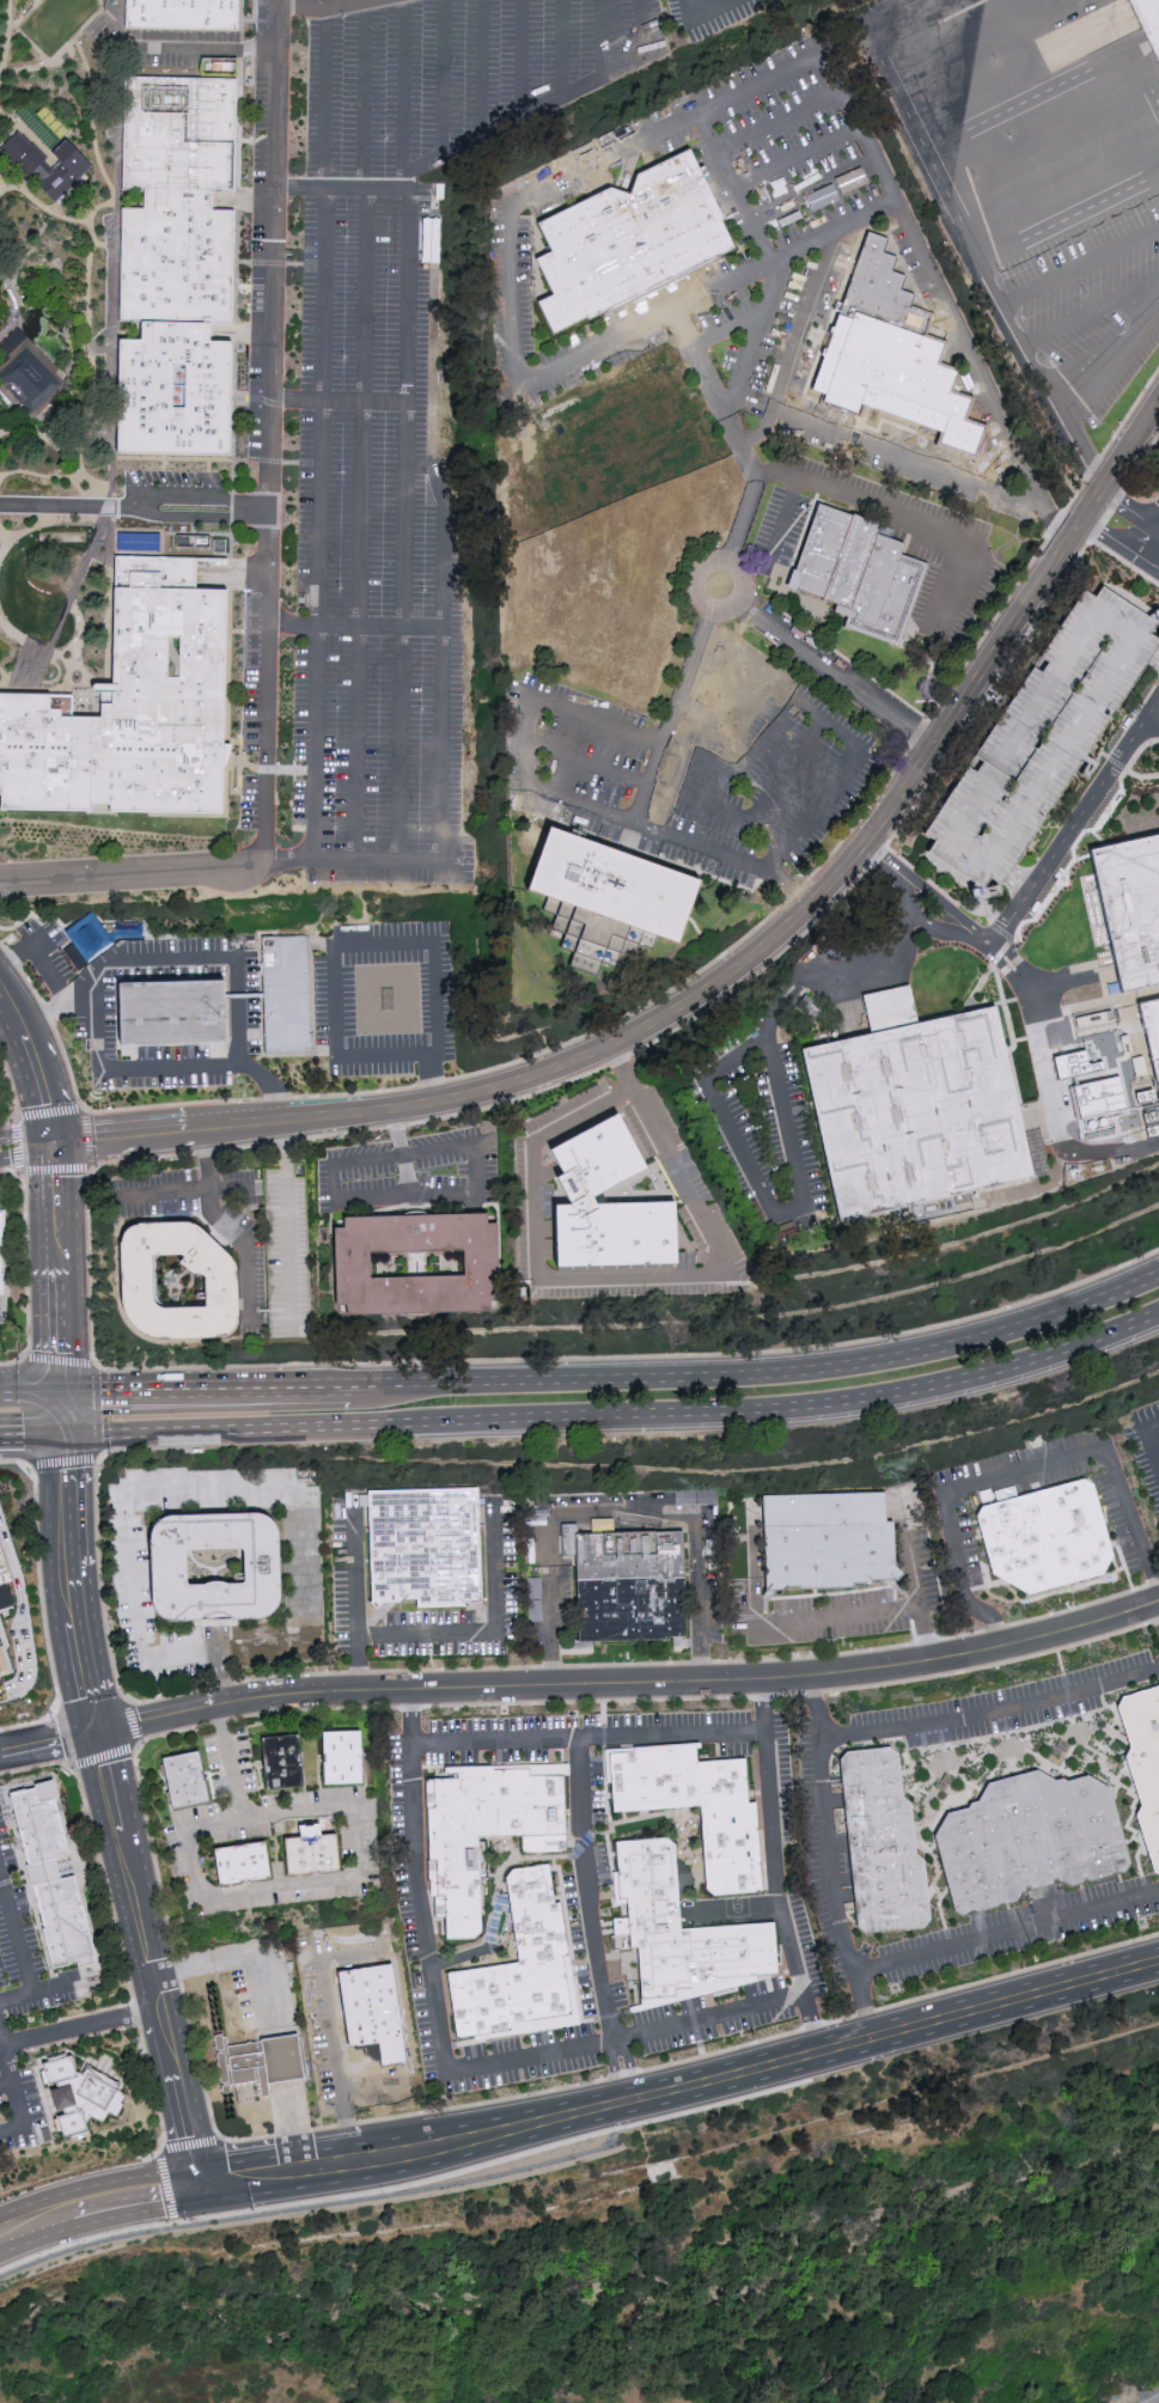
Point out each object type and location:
road: (313, 4)
road: (1069, 4)
park: (69, 8)
road: (327, 8)
parking lot: (1056, 11)
road: (702, 13)
building: (181, 14)
parking lot: (708, 16)
road: (1018, 16)
road: (60, 20)
building: (1148, 20)
park: (43, 29)
road: (121, 35)
road: (6, 36)
road: (604, 38)
parking lot: (184, 45)
road: (209, 47)
road: (561, 49)
road: (66, 55)
road: (520, 60)
road: (481, 68)
road: (0, 74)
parking lot: (456, 75)
road: (441, 78)
road: (402, 87)
road: (543, 108)
road: (776, 122)
road: (104, 141)
road: (866, 148)
road: (794, 159)
building: (53, 164)
road: (341, 189)
road: (97, 190)
road: (812, 195)
road: (37, 201)
parking lot: (1070, 219)
road: (1072, 224)
parking lot: (779, 226)
parking lot: (268, 228)
building: (623, 236)
road: (978, 252)
road: (769, 263)
road: (1081, 266)
building: (176, 267)
park: (54, 270)
road: (18, 272)
road: (77, 275)
parking lot: (733, 298)
road: (16, 300)
road: (86, 310)
road: (1093, 313)
road: (727, 329)
road: (622, 334)
parking lot: (793, 340)
road: (798, 347)
building: (886, 352)
parking lot: (966, 353)
road: (1112, 362)
road: (93, 374)
building: (24, 377)
road: (713, 395)
road: (337, 401)
road: (268, 410)
road: (361, 432)
road: (319, 434)
parking lot: (889, 449)
road: (910, 458)
road: (775, 470)
parking lot: (39, 481)
parking lot: (164, 482)
road: (133, 499)
parking lot: (1012, 510)
road: (885, 511)
road: (1130, 512)
road: (133, 514)
road: (740, 522)
road: (402, 525)
parking lot: (139, 532)
road: (2, 543)
road: (1121, 544)
road: (1152, 547)
parking lot: (950, 549)
road: (1124, 562)
parking lot: (373, 563)
building: (2, 568)
road: (752, 568)
road: (701, 572)
building: (856, 573)
road: (4, 586)
road: (67, 603)
parking lot: (12, 617)
road: (349, 627)
building: (1, 638)
road: (1155, 655)
road: (836, 675)
road: (992, 694)
building: (134, 709)
road: (673, 716)
road: (727, 716)
road: (444, 719)
road: (1152, 724)
parking lot: (258, 732)
building: (1042, 740)
parking lot: (1042, 740)
road: (1139, 750)
road: (1112, 761)
parking lot: (693, 769)
road: (1141, 776)
road: (697, 805)
road: (621, 821)
road: (1073, 829)
road: (260, 844)
road: (1073, 853)
road: (880, 860)
road: (285, 861)
road: (129, 873)
road: (1020, 885)
road: (922, 888)
road: (903, 889)
road: (939, 891)
road: (786, 893)
building: (598, 896)
building: (1128, 905)
road: (964, 923)
road: (943, 928)
road: (1002, 932)
building: (99, 935)
road: (367, 945)
road: (1001, 951)
road: (39, 957)
road: (173, 959)
road: (286, 968)
road: (733, 975)
road: (841, 977)
road: (671, 988)
building: (285, 995)
parking lot: (285, 995)
parking lot: (334, 1000)
parking lot: (89, 1007)
building: (811, 1007)
building: (890, 1007)
building: (167, 1013)
building: (1151, 1033)
road: (37, 1060)
road: (165, 1072)
road: (1051, 1084)
road: (12, 1085)
building: (1090, 1097)
building: (911, 1114)
road: (26, 1136)
traffic signals: (54, 1142)
road: (401, 1152)
road: (28, 1153)
road: (139, 1159)
road: (6, 1171)
road: (545, 1171)
road: (19, 1172)
parking lot: (410, 1172)
road: (182, 1191)
parking lot: (531, 1191)
building: (622, 1194)
road: (417, 1195)
building: (608, 1206)
road: (765, 1206)
road: (222, 1224)
road: (286, 1224)
road: (543, 1227)
building: (288, 1251)
building: (2, 1252)
road: (56, 1262)
building: (420, 1264)
road: (26, 1275)
road: (591, 1276)
building: (182, 1282)
road: (761, 1373)
traffic signals: (61, 1382)
road: (78, 1382)
road: (221, 1383)
road: (36, 1385)
road: (6, 1389)
road: (61, 1405)
road: (96, 1411)
road: (776, 1414)
road: (307, 1427)
road: (148, 1429)
road: (8, 1431)
road: (39, 1431)
traffic signals: (62, 1431)
building: (1158, 1434)
road: (1145, 1447)
road: (13, 1462)
road: (1020, 1470)
road: (209, 1490)
road: (621, 1510)
building: (1051, 1539)
building: (834, 1543)
building: (429, 1549)
building: (4, 1553)
building: (219, 1568)
building: (633, 1586)
road: (19, 1610)
road: (834, 1615)
road: (925, 1634)
road: (432, 1635)
road: (358, 1664)
road: (519, 1666)
road: (220, 1677)
road: (630, 1683)
road: (649, 1701)
road: (763, 1706)
road: (815, 1706)
road: (411, 1716)
traffic signals: (97, 1732)
road: (49, 1742)
road: (124, 1749)
road: (1, 1752)
building: (336, 1761)
building: (1143, 1765)
building: (276, 1767)
building: (179, 1782)
road: (114, 1806)
building: (482, 1835)
road: (823, 1838)
building: (1027, 1843)
building: (879, 1848)
building: (728, 1854)
building: (306, 1859)
road: (356, 1864)
building: (234, 1867)
building: (56, 1878)
road: (585, 1884)
road: (734, 1907)
building: (651, 1914)
road: (16, 1935)
parking lot: (25, 1953)
road: (246, 1953)
road: (457, 1959)
building: (514, 1969)
road: (51, 1989)
road: (16, 1999)
road: (862, 2006)
building: (367, 2020)
road: (813, 2023)
road: (79, 2026)
road: (333, 2027)
building: (260, 2061)
road: (6, 2064)
building: (87, 2087)
road: (684, 2092)
road: (627, 2105)
road: (18, 2110)
parking lot: (20, 2114)
road: (292, 2122)
traffic signals: (201, 2178)
road: (98, 2184)
road: (140, 2206)
road: (36, 2236)
road: (1001, 2330)

